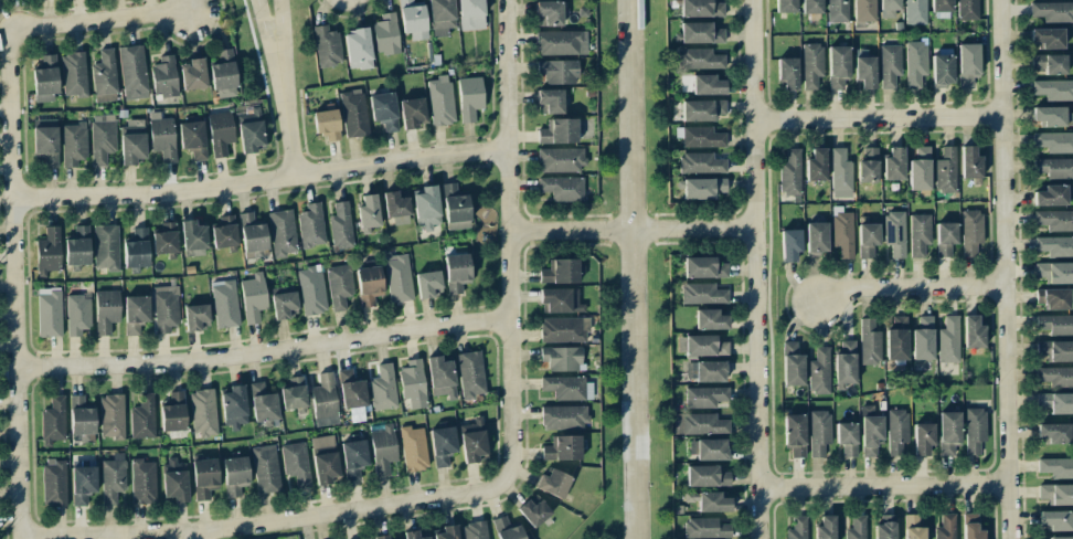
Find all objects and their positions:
building: (785, 6)
building: (941, 6)
building: (811, 7)
building: (701, 8)
building: (889, 9)
building: (837, 10)
building: (863, 10)
building: (915, 11)
building: (1052, 11)
building: (550, 13)
building: (470, 14)
building: (440, 17)
building: (413, 19)
road: (99, 20)
road: (277, 30)
road: (265, 31)
building: (699, 33)
building: (385, 34)
building: (1047, 38)
building: (561, 42)
building: (327, 46)
building: (358, 49)
building: (699, 59)
building: (915, 62)
building: (967, 63)
building: (1048, 63)
building: (811, 64)
building: (890, 64)
building: (838, 67)
building: (942, 67)
building: (864, 68)
building: (557, 71)
building: (132, 72)
building: (787, 73)
building: (74, 74)
building: (192, 74)
building: (223, 75)
building: (105, 76)
building: (163, 77)
building: (44, 80)
building: (707, 85)
building: (1053, 89)
building: (469, 97)
building: (440, 99)
building: (550, 102)
building: (701, 109)
building: (383, 110)
building: (353, 113)
building: (412, 113)
building: (1052, 116)
road: (877, 117)
road: (285, 118)
building: (326, 124)
building: (557, 131)
building: (220, 133)
building: (162, 136)
building: (700, 136)
building: (102, 138)
building: (192, 138)
building: (46, 141)
building: (131, 141)
building: (1053, 141)
building: (73, 144)
building: (560, 159)
building: (700, 163)
building: (868, 163)
building: (893, 163)
building: (970, 163)
building: (816, 165)
building: (1054, 168)
building: (920, 169)
building: (945, 170)
building: (789, 172)
building: (840, 173)
road: (257, 179)
building: (561, 188)
building: (702, 188)
building: (1050, 195)
building: (395, 208)
building: (426, 208)
building: (455, 208)
building: (368, 211)
building: (1054, 220)
building: (310, 225)
building: (341, 226)
road: (691, 228)
road: (565, 231)
building: (970, 231)
building: (224, 232)
building: (842, 232)
building: (281, 233)
building: (894, 233)
building: (918, 234)
building: (252, 235)
building: (816, 237)
building: (945, 237)
building: (164, 239)
building: (193, 239)
building: (867, 239)
road: (503, 241)
building: (790, 245)
building: (77, 246)
building: (1054, 246)
building: (105, 247)
building: (136, 249)
building: (47, 252)
building: (703, 267)
road: (628, 269)
road: (755, 269)
road: (1001, 269)
building: (560, 272)
building: (1054, 272)
building: (456, 274)
building: (397, 277)
road: (13, 284)
building: (369, 284)
building: (427, 284)
building: (339, 285)
road: (909, 286)
building: (311, 290)
building: (702, 294)
building: (253, 297)
building: (1052, 298)
building: (560, 299)
building: (224, 304)
building: (284, 305)
building: (166, 308)
building: (106, 310)
building: (49, 313)
building: (136, 314)
building: (77, 315)
building: (195, 317)
building: (710, 319)
building: (1055, 324)
building: (563, 329)
building: (973, 331)
building: (896, 339)
building: (923, 339)
building: (948, 340)
building: (869, 342)
building: (704, 346)
building: (1055, 350)
road: (261, 351)
building: (562, 358)
building: (844, 362)
building: (792, 364)
building: (707, 370)
building: (819, 371)
building: (470, 373)
building: (1055, 376)
building: (440, 377)
building: (412, 383)
building: (564, 387)
building: (383, 388)
building: (351, 391)
building: (294, 393)
building: (704, 397)
building: (325, 401)
building: (1055, 402)
building: (262, 403)
building: (234, 406)
building: (202, 411)
building: (172, 412)
building: (111, 415)
building: (81, 416)
building: (563, 416)
building: (142, 418)
building: (52, 421)
building: (704, 424)
building: (974, 430)
building: (870, 431)
building: (818, 432)
building: (896, 432)
building: (948, 432)
building: (1053, 432)
building: (795, 434)
building: (923, 437)
building: (847, 438)
building: (471, 441)
building: (442, 445)
building: (413, 448)
building: (562, 448)
building: (708, 448)
building: (382, 450)
building: (323, 458)
building: (353, 458)
building: (296, 463)
building: (1055, 467)
building: (265, 468)
building: (234, 476)
building: (707, 476)
building: (204, 477)
building: (113, 478)
building: (174, 479)
building: (54, 482)
building: (142, 482)
building: (553, 483)
building: (83, 484)
road: (883, 485)
building: (1056, 494)
building: (712, 501)
building: (533, 511)
building: (1054, 519)
road: (261, 520)
building: (857, 527)
building: (885, 527)
building: (912, 527)
building: (946, 527)
building: (970, 527)
building: (705, 528)
building: (797, 528)
building: (825, 528)
building: (506, 529)
building: (474, 530)
building: (447, 532)
road: (192, 535)
building: (416, 535)
building: (387, 537)
building: (1060, 537)
building: (364, 538)

